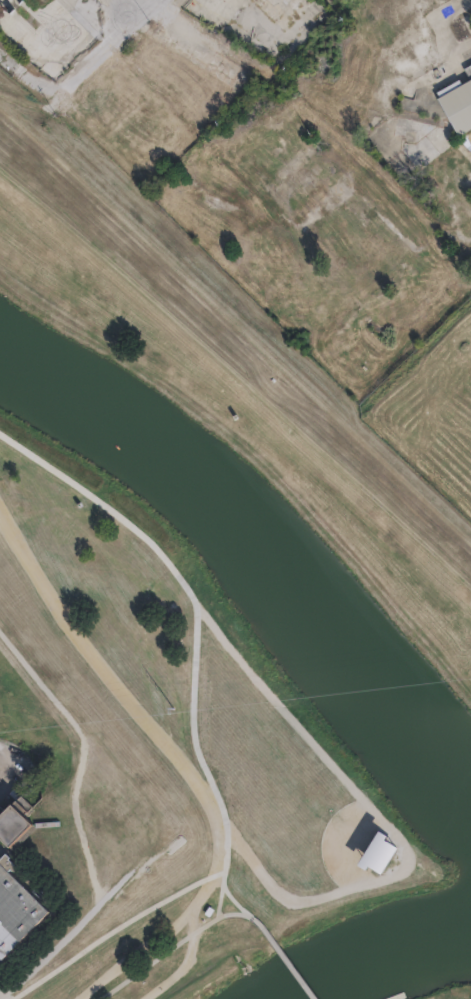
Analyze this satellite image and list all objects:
road: (110, 47)
building: (144, 59)
building: (470, 72)
building: (199, 101)
building: (460, 110)
road: (438, 261)
river: (252, 558)
road: (151, 591)
park: (227, 605)
road: (134, 699)
building: (10, 836)
building: (379, 854)
road: (235, 914)
building: (13, 920)
road: (165, 934)
river: (378, 952)
road: (162, 954)
road: (282, 955)
road: (1, 987)

